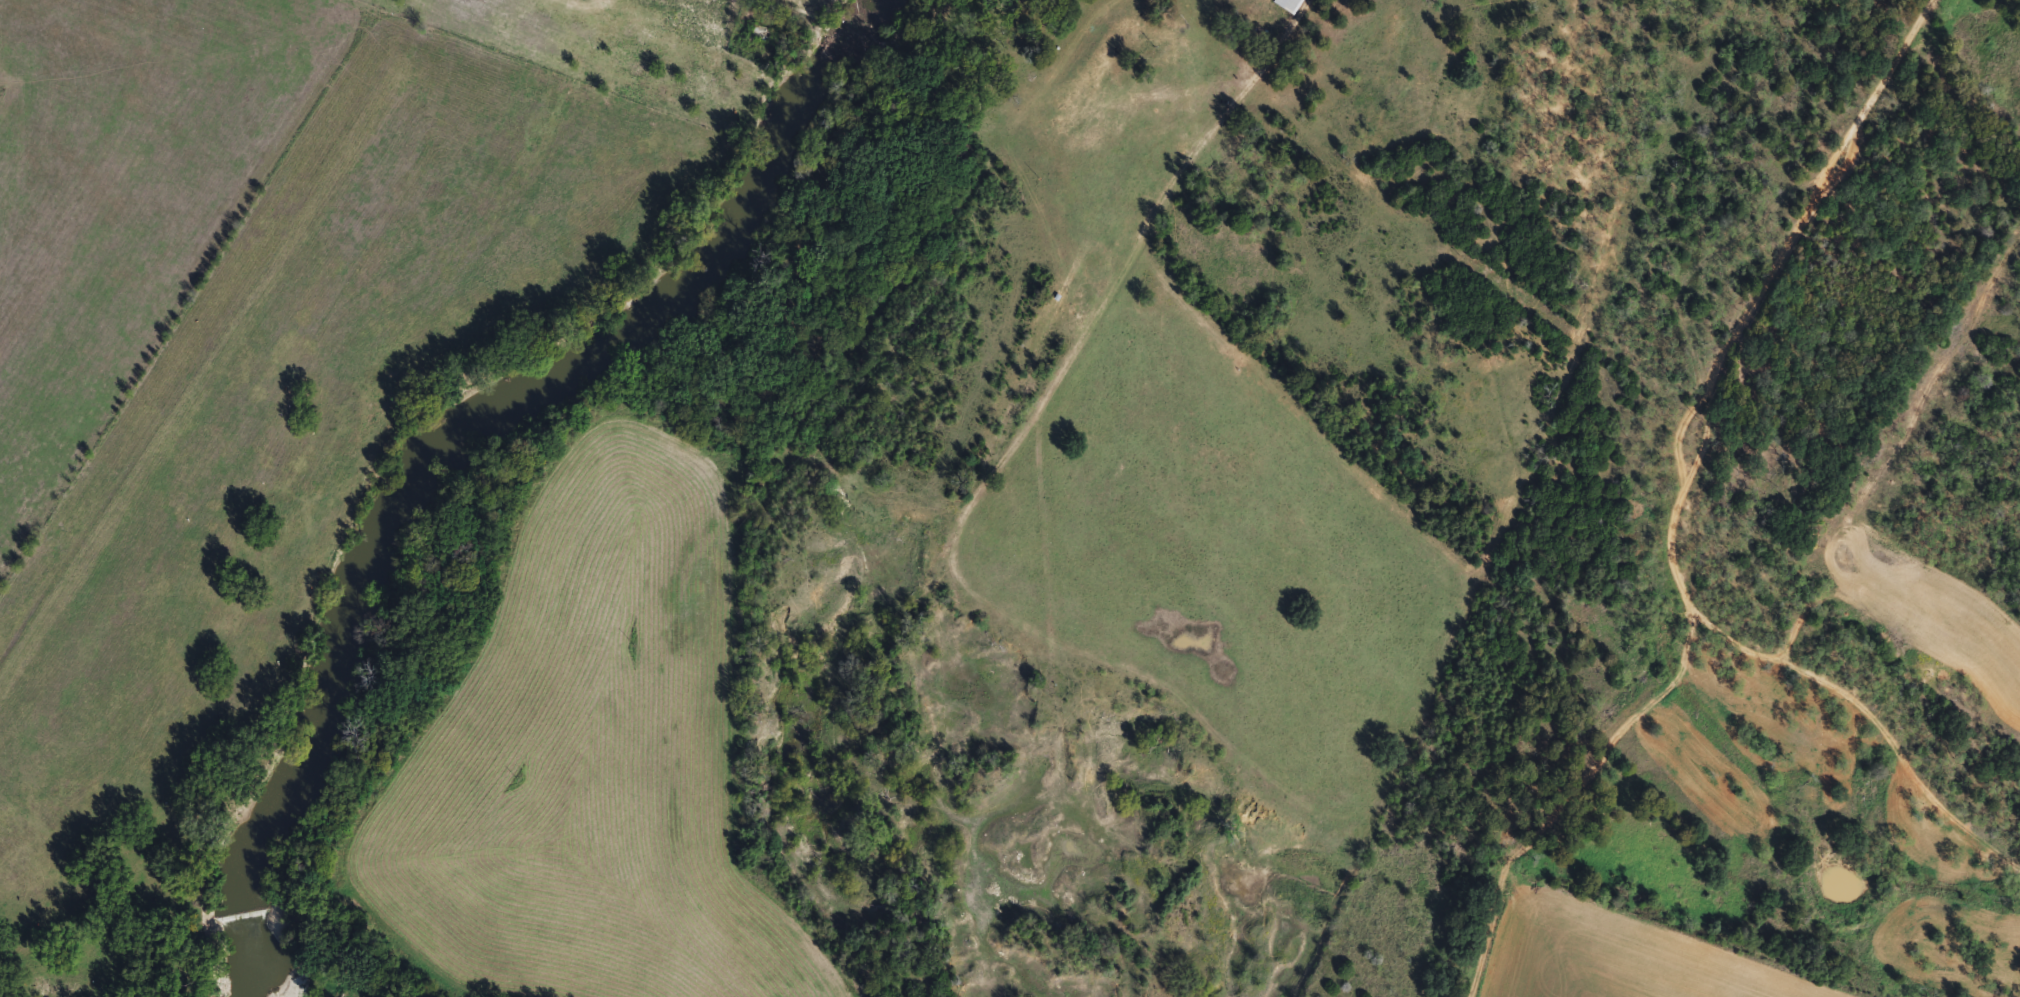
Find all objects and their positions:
building: (763, 36)
road: (1133, 281)
road: (1701, 390)
river: (438, 422)

